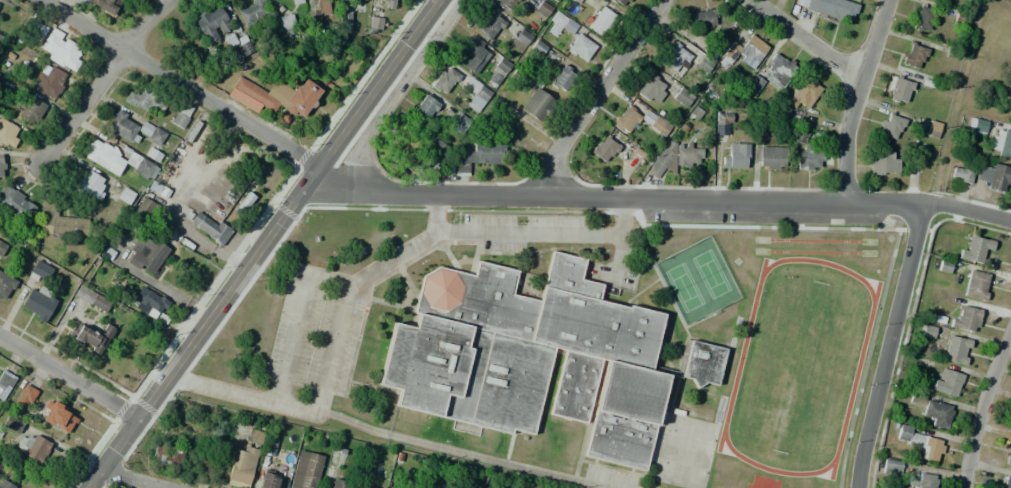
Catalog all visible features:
building: (275, 0)
building: (365, 0)
building: (555, 0)
building: (295, 1)
building: (577, 1)
building: (74, 2)
building: (621, 2)
building: (386, 3)
building: (506, 4)
building: (106, 6)
building: (831, 8)
building: (543, 9)
building: (319, 11)
building: (253, 12)
building: (600, 18)
building: (704, 18)
building: (923, 18)
building: (345, 21)
building: (285, 22)
building: (374, 24)
building: (556, 24)
building: (213, 26)
building: (491, 26)
building: (0, 36)
building: (520, 40)
road: (806, 41)
building: (53, 44)
building: (581, 48)
building: (243, 49)
building: (745, 52)
building: (472, 53)
building: (914, 56)
building: (676, 58)
park: (987, 63)
building: (501, 66)
building: (778, 70)
road: (103, 77)
building: (563, 78)
building: (445, 80)
road: (180, 81)
building: (50, 83)
building: (753, 84)
building: (652, 89)
building: (900, 90)
building: (802, 92)
building: (476, 94)
road: (595, 94)
building: (276, 96)
building: (681, 97)
road: (856, 98)
building: (139, 100)
building: (537, 104)
building: (425, 107)
building: (31, 110)
building: (183, 116)
building: (722, 118)
building: (626, 119)
building: (460, 124)
building: (976, 125)
building: (659, 126)
building: (890, 126)
building: (132, 128)
building: (932, 129)
building: (8, 134)
building: (406, 140)
building: (1001, 141)
building: (604, 149)
building: (437, 150)
building: (479, 155)
building: (732, 155)
building: (771, 157)
building: (812, 158)
building: (674, 159)
building: (120, 161)
building: (884, 163)
building: (913, 165)
building: (1, 168)
building: (961, 174)
building: (999, 178)
building: (91, 185)
building: (125, 196)
road: (653, 198)
building: (15, 203)
building: (145, 209)
building: (62, 222)
building: (210, 228)
road: (258, 243)
building: (2, 247)
building: (973, 247)
building: (146, 251)
park: (710, 274)
building: (976, 284)
building: (5, 285)
park: (682, 287)
building: (37, 295)
building: (91, 298)
building: (147, 299)
building: (965, 318)
building: (92, 336)
road: (887, 345)
building: (956, 350)
building: (537, 357)
track: (858, 366)
road: (69, 373)
building: (946, 381)
building: (5, 383)
building: (25, 396)
road: (981, 407)
building: (933, 409)
building: (59, 417)
building: (12, 424)
building: (919, 441)
building: (32, 446)
building: (168, 455)
building: (1008, 455)
building: (244, 460)
building: (202, 467)
building: (891, 467)
building: (305, 470)
road: (133, 478)
building: (268, 480)
building: (921, 480)
building: (1005, 482)
building: (340, 483)
building: (6, 485)

